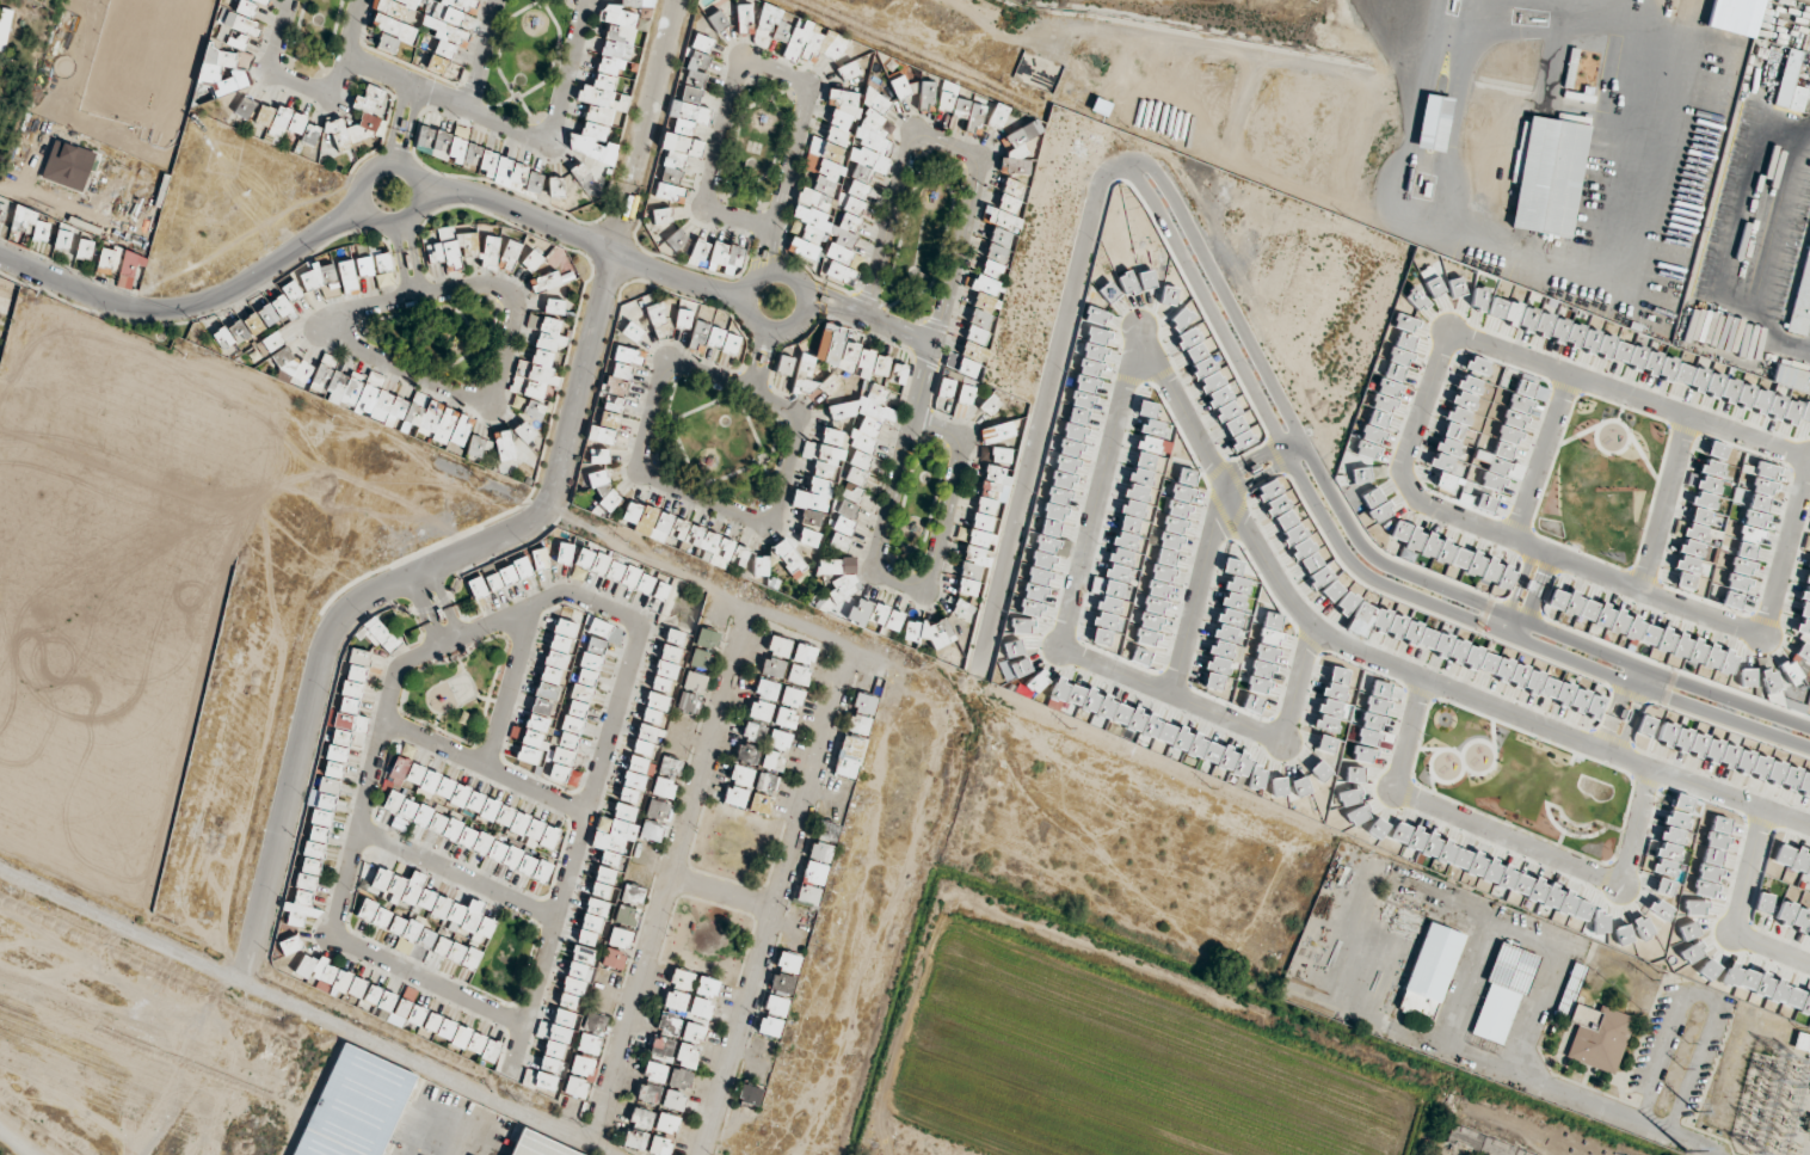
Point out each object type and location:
crop: (1410, 564)
crop: (1699, 713)
crop: (1115, 1068)
power substation: (1766, 1089)

